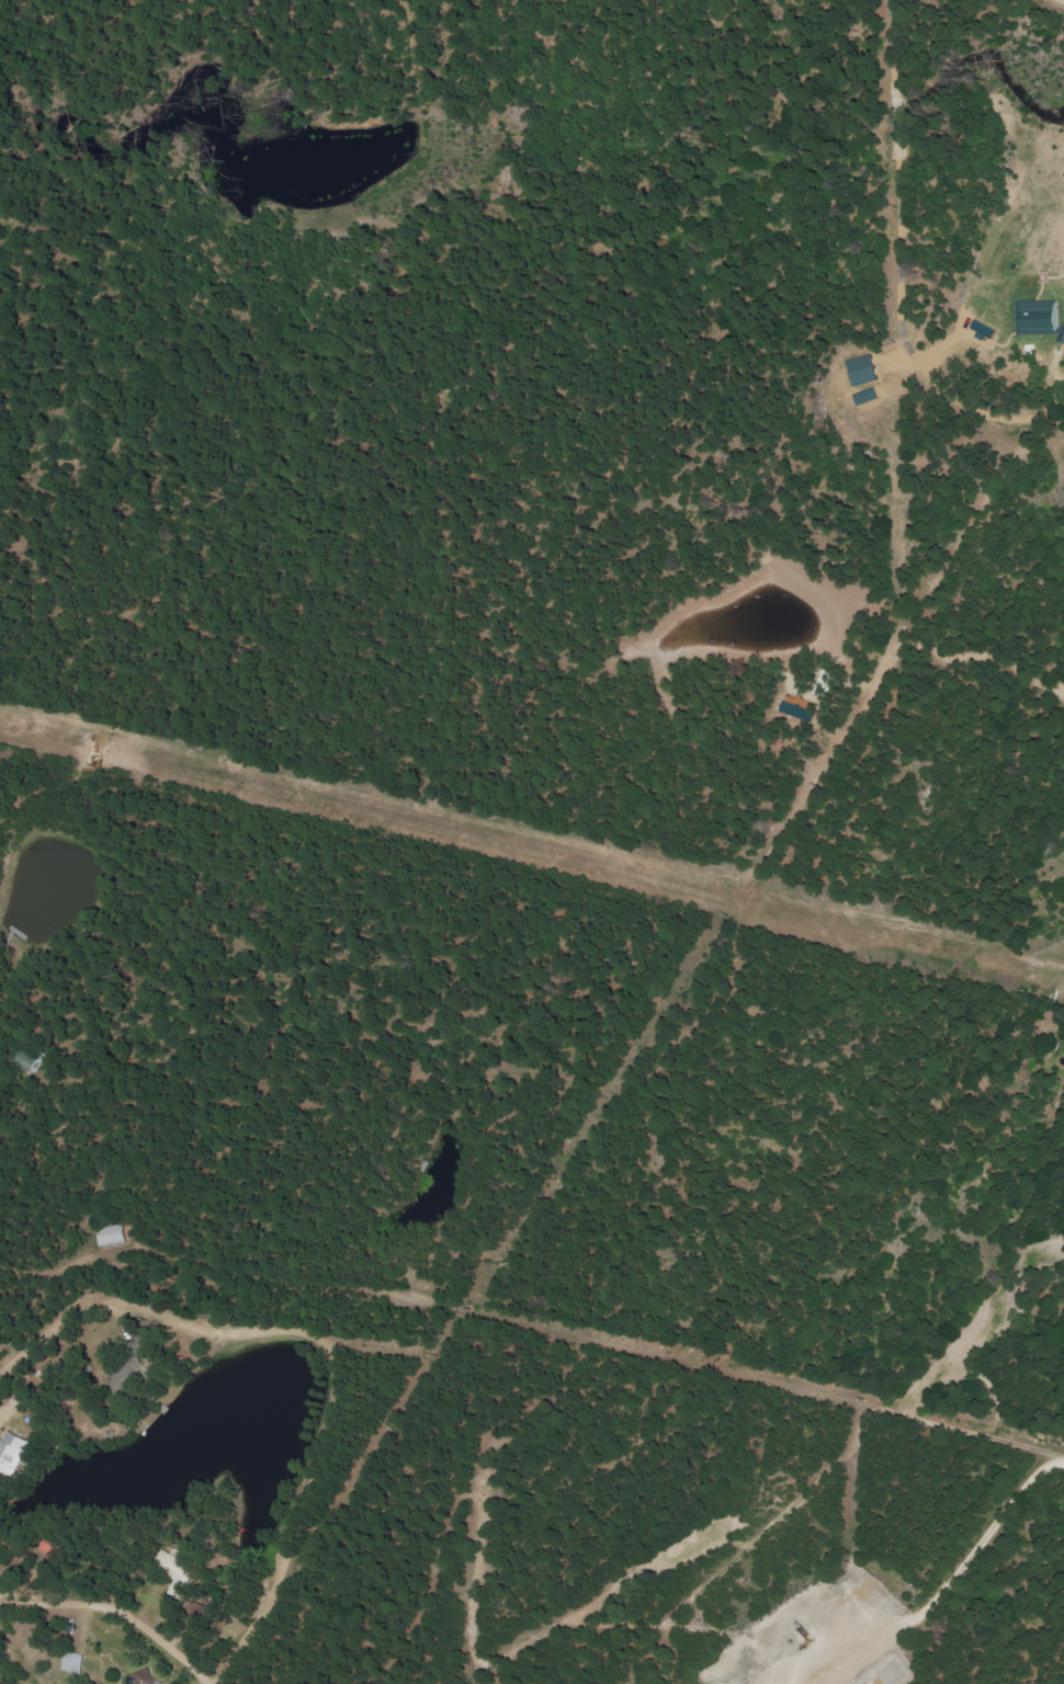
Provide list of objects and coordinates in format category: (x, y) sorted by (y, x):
building: (1040, 318)
building: (867, 371)
building: (110, 1237)
road: (341, 1336)
building: (13, 1454)
road: (953, 1573)
road: (115, 1609)
petroleum well: (799, 1623)
building: (145, 1677)

